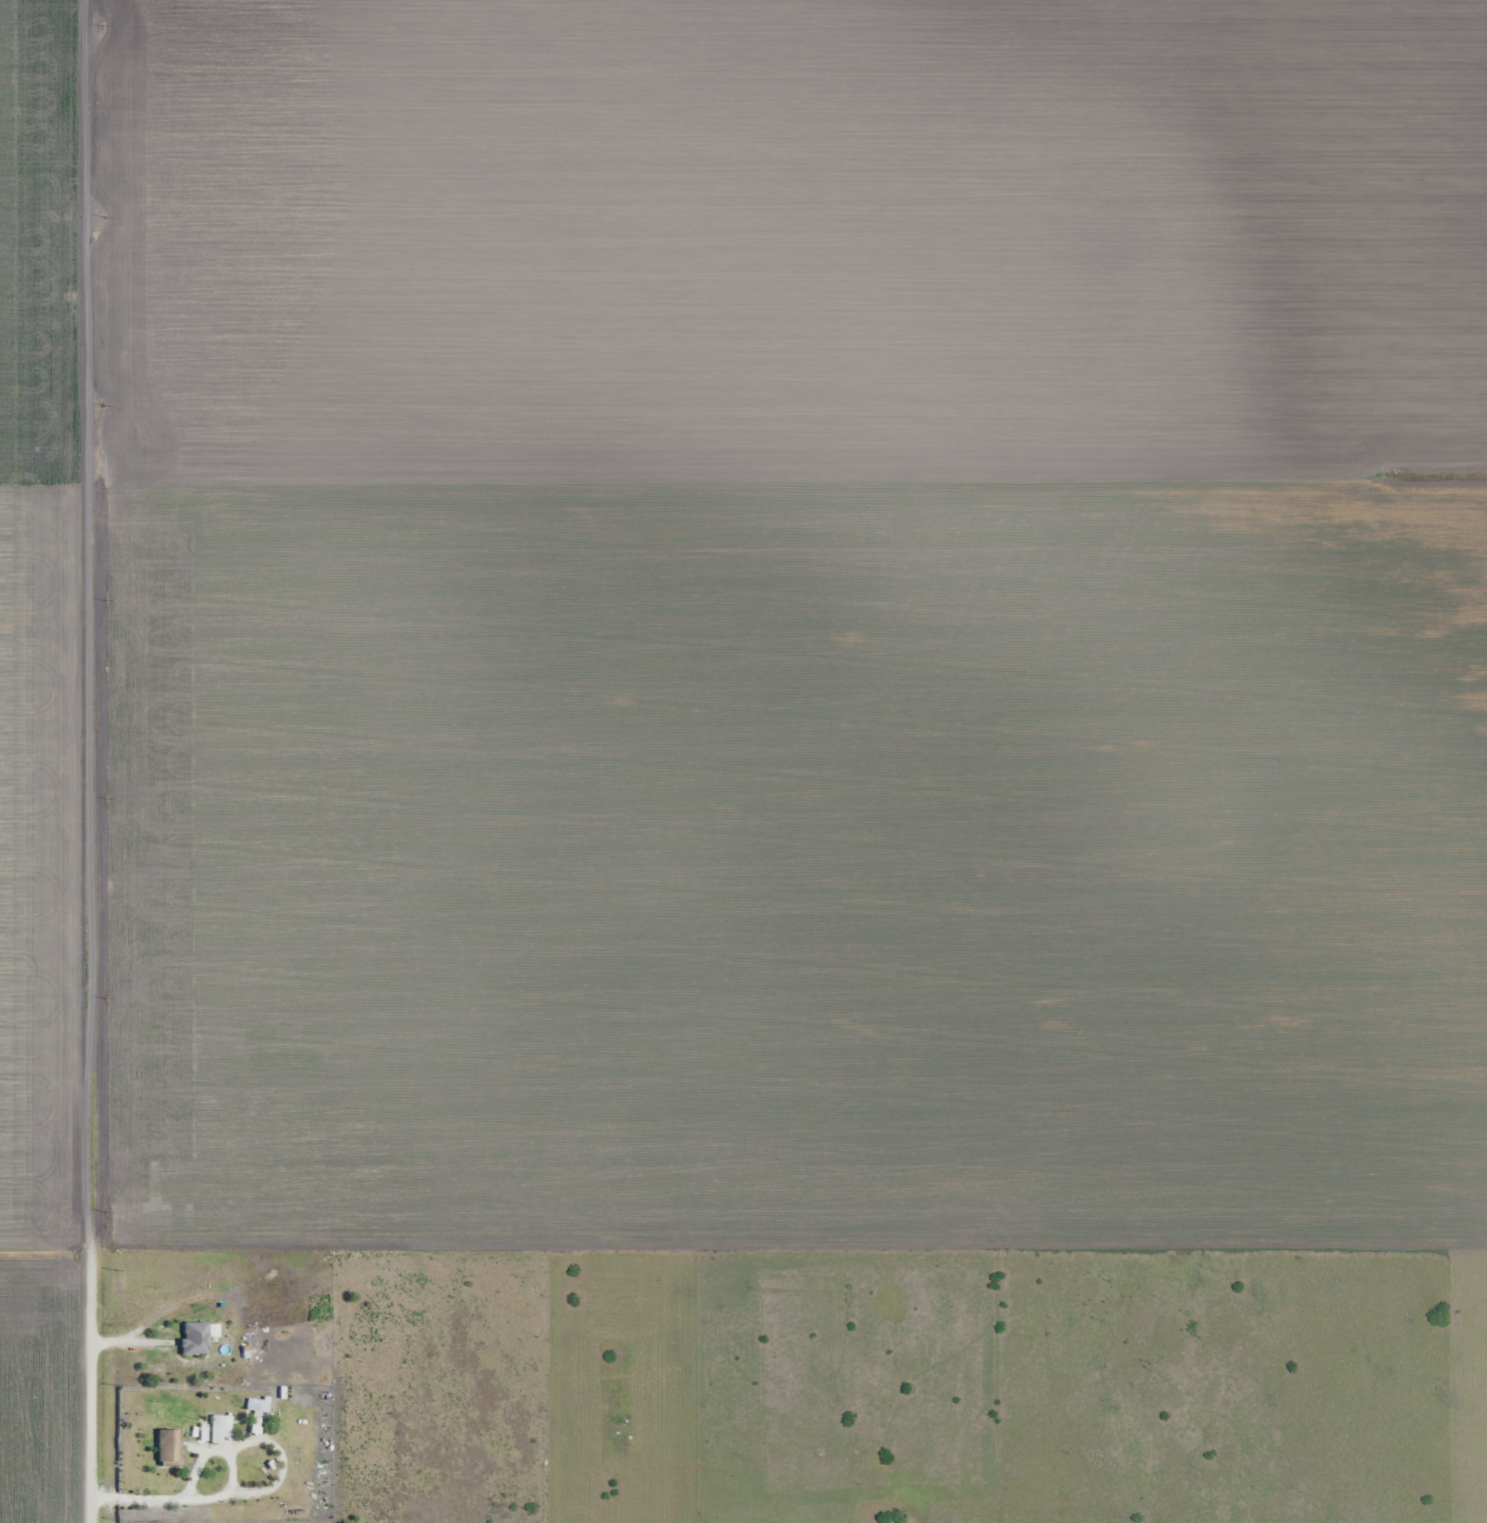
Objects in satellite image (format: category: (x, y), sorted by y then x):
road: (93, 761)
building: (194, 1338)
building: (221, 1429)
building: (170, 1445)

